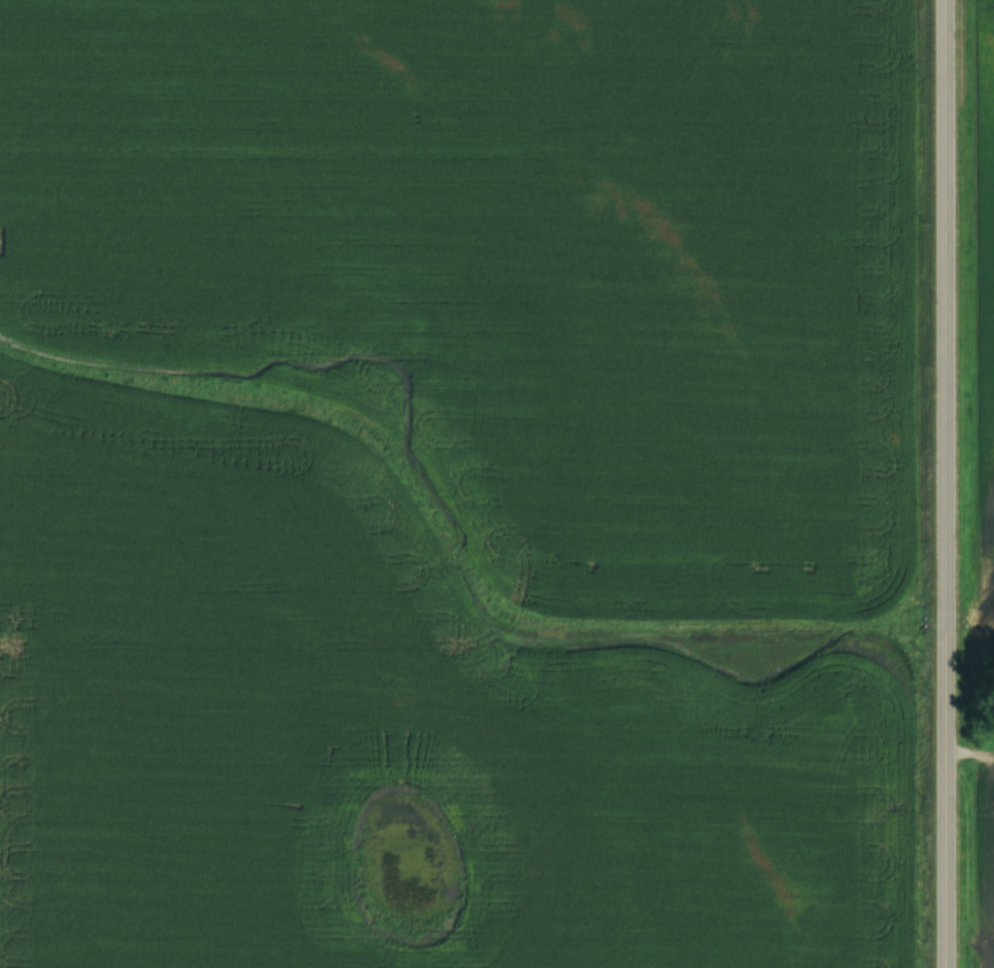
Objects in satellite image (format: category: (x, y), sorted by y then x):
road: (944, 483)

